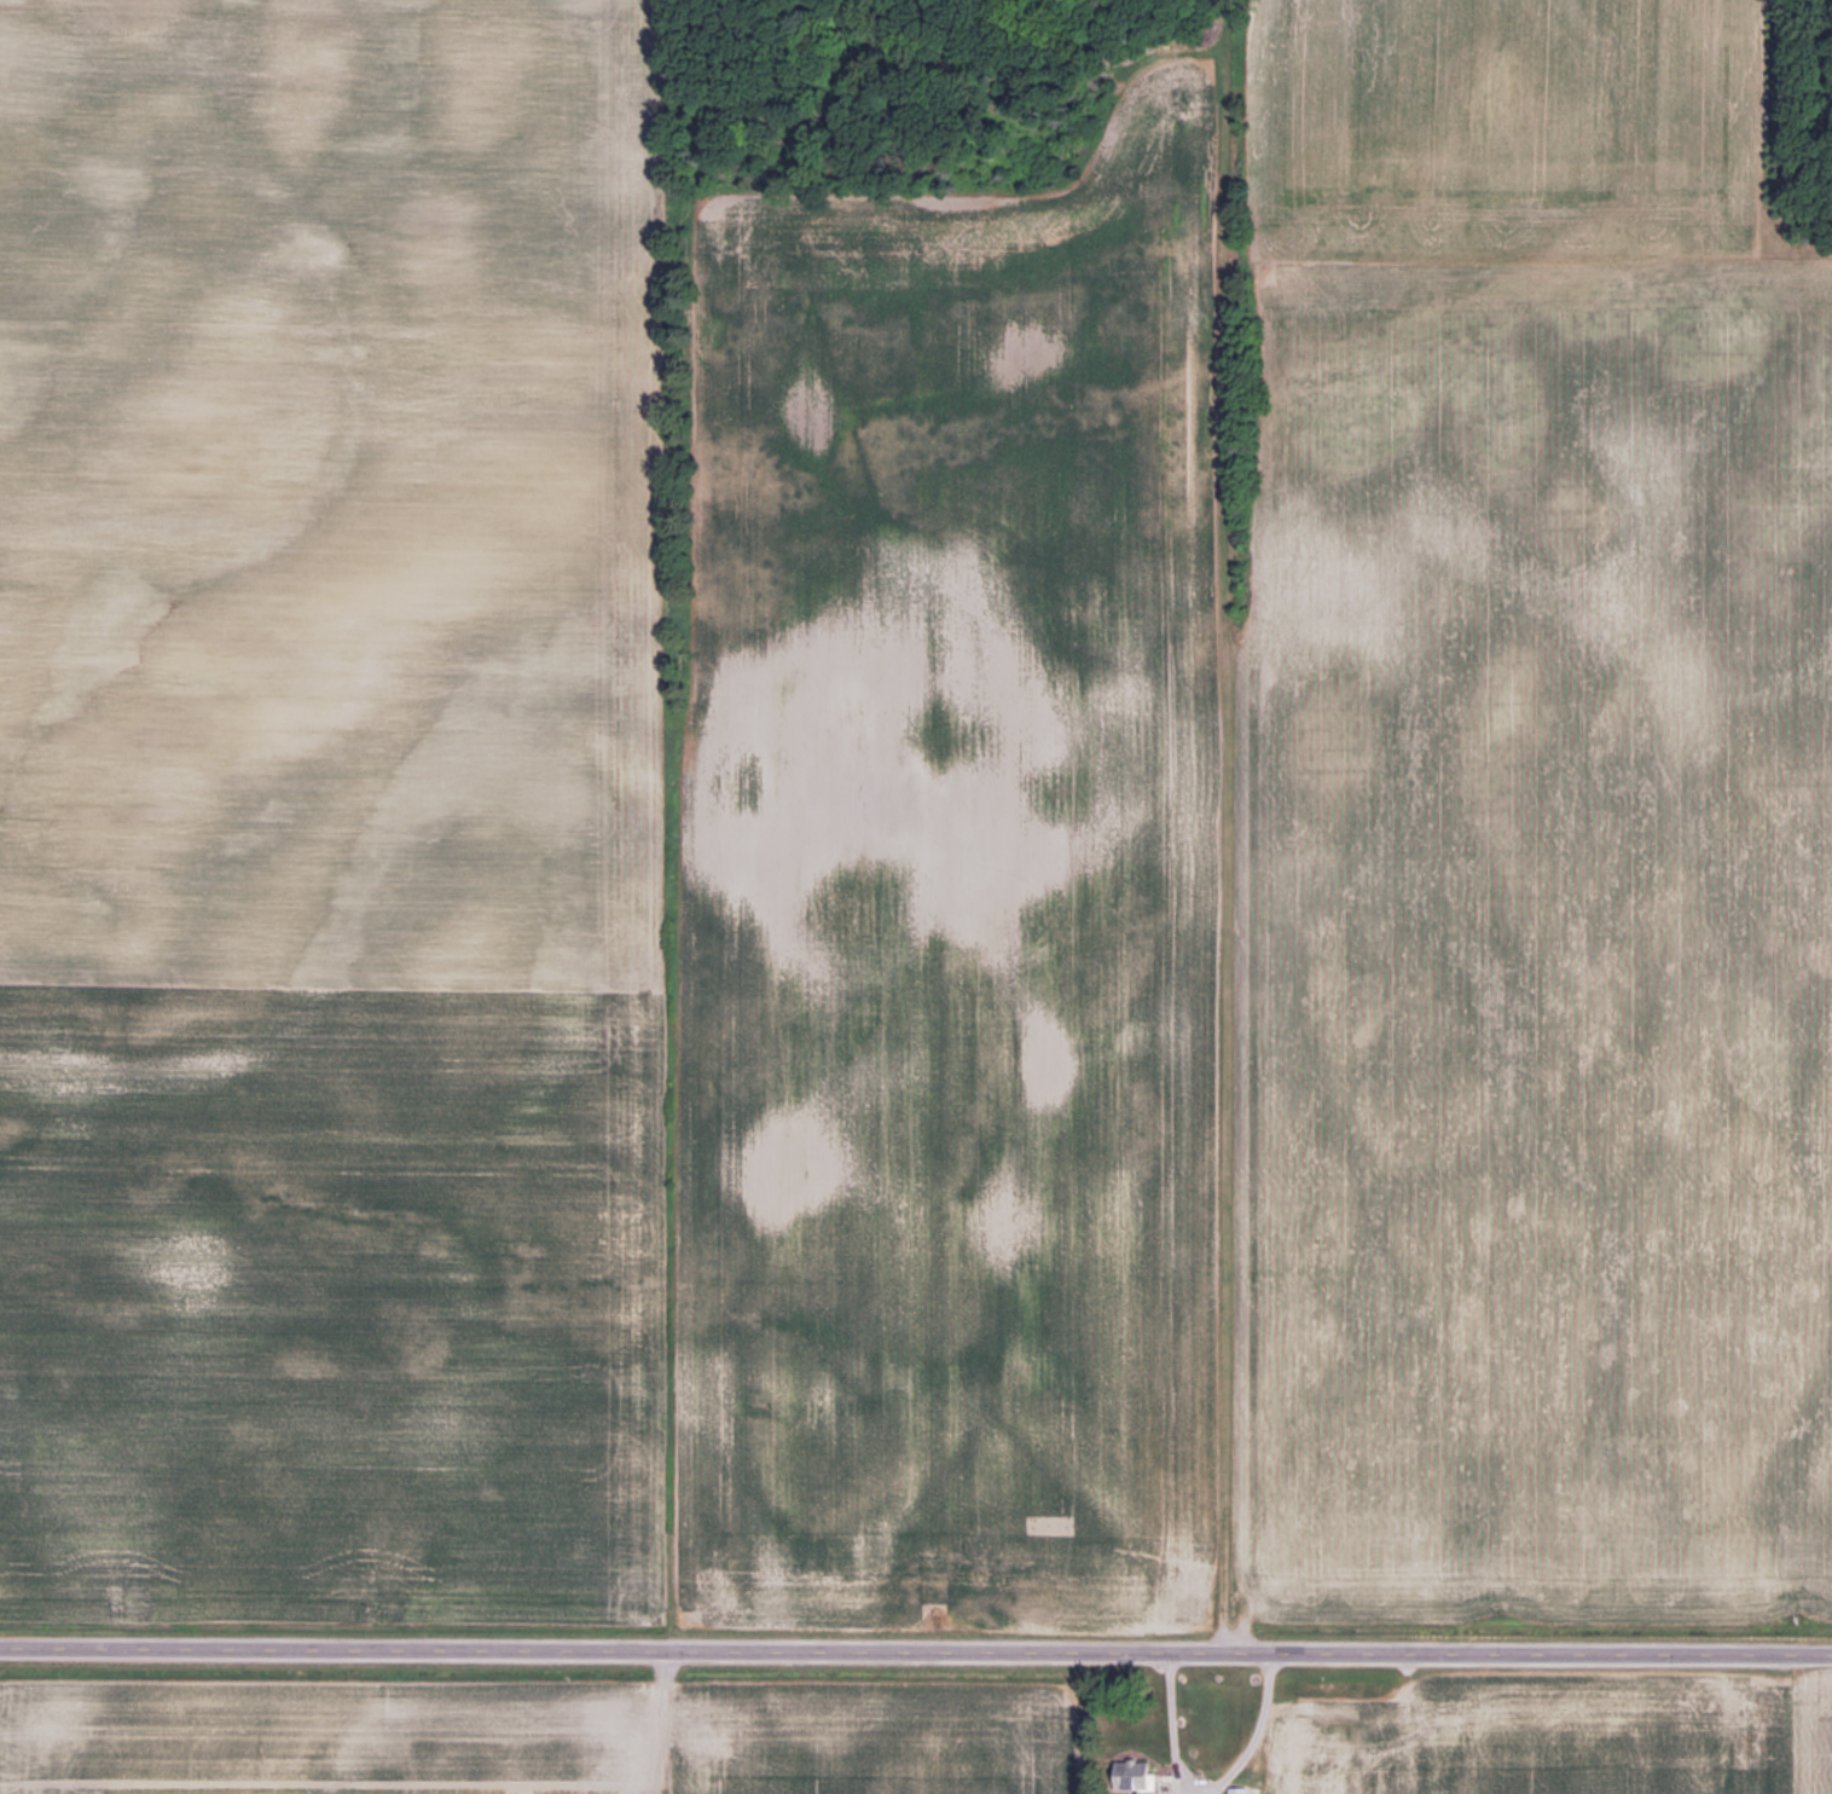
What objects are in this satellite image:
road: (915, 1653)
road: (1245, 1729)
building: (1322, 1755)
building: (1138, 1777)
building: (1240, 1790)

